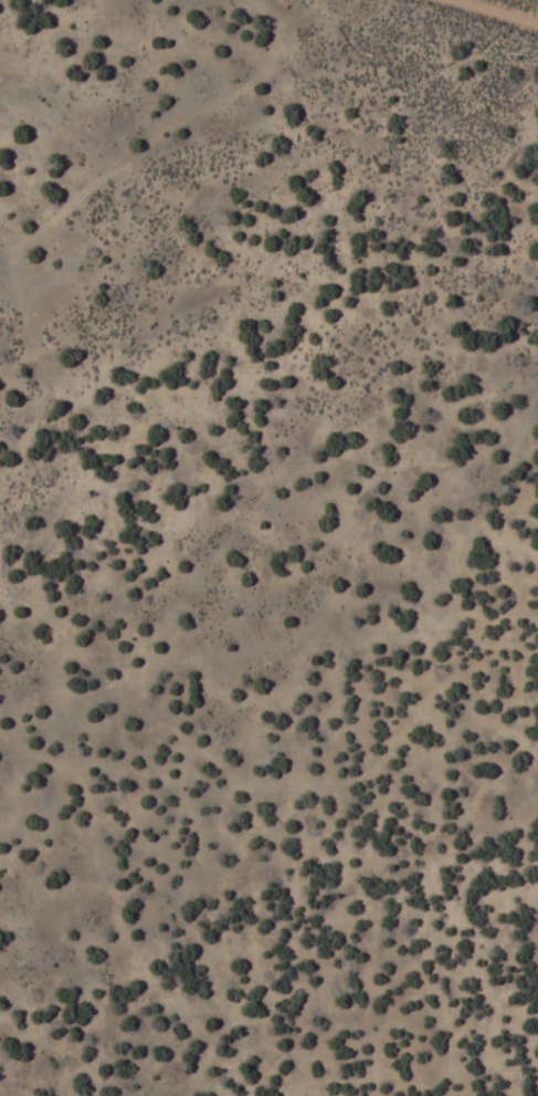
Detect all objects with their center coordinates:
road: (495, 11)

